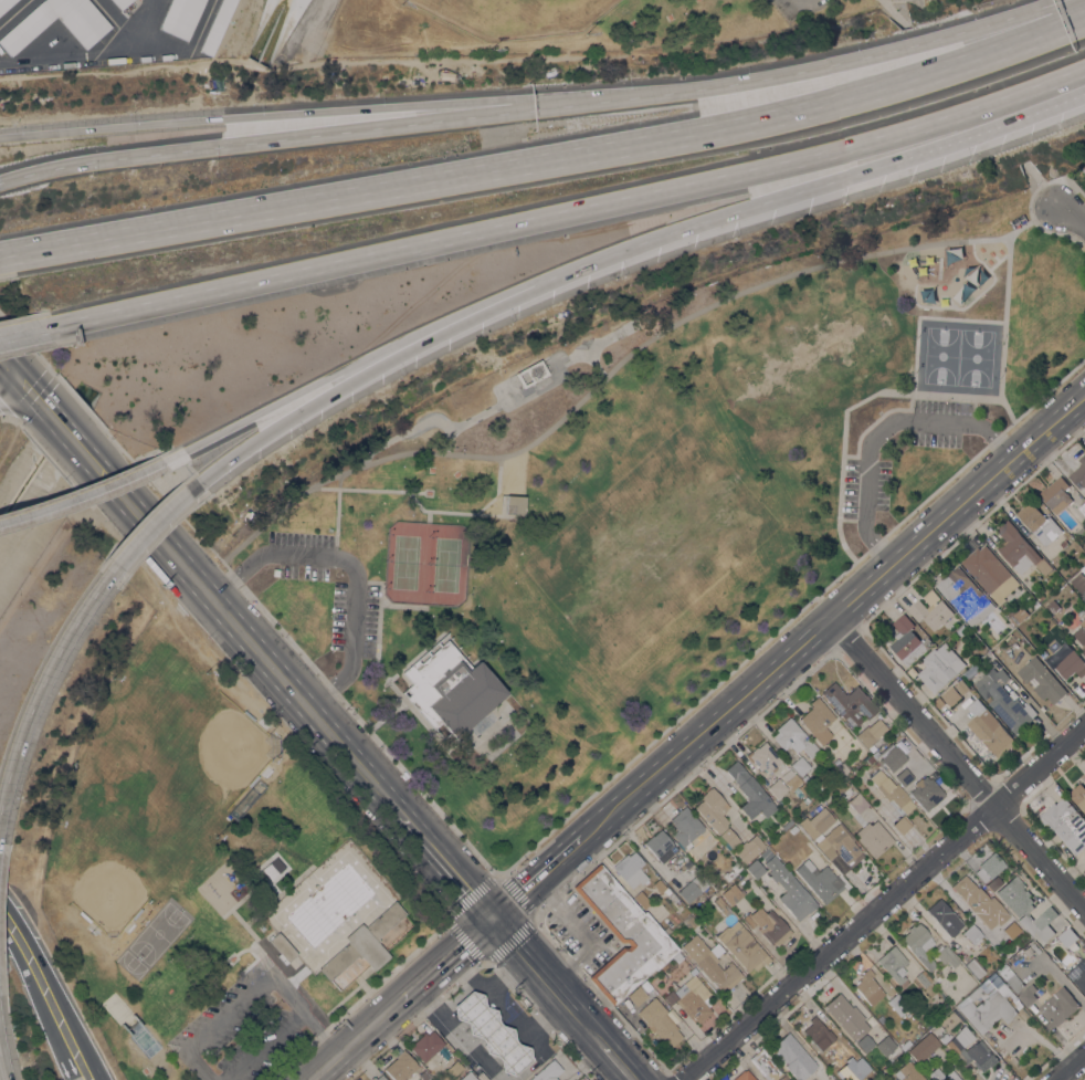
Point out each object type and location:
building: (119, 2)
building: (4, 4)
road: (148, 6)
parking lot: (787, 7)
road: (893, 13)
park: (516, 15)
building: (180, 17)
park: (561, 23)
building: (217, 25)
building: (87, 32)
road: (168, 45)
road: (896, 50)
road: (101, 53)
road: (360, 109)
road: (360, 128)
road: (548, 162)
building: (1083, 169)
road: (1037, 182)
road: (729, 211)
road: (577, 214)
road: (1068, 214)
road: (1003, 332)
road: (31, 334)
road: (32, 348)
park: (958, 357)
road: (610, 371)
building: (530, 373)
traffic signals: (20, 379)
road: (22, 381)
road: (10, 388)
park: (507, 391)
road: (80, 401)
road: (280, 401)
road: (845, 409)
road: (291, 416)
parking lot: (938, 422)
road: (882, 430)
road: (70, 433)
building: (1079, 474)
parking lot: (864, 487)
road: (159, 489)
road: (89, 491)
building: (1056, 495)
park: (650, 501)
building: (515, 504)
building: (1082, 508)
road: (423, 510)
road: (337, 514)
building: (1039, 523)
road: (147, 527)
building: (1078, 533)
building: (1063, 543)
building: (1016, 548)
parking lot: (299, 553)
park: (425, 562)
road: (350, 567)
building: (1044, 567)
building: (1083, 569)
building: (990, 574)
building: (1079, 583)
building: (965, 597)
building: (1040, 597)
building: (1034, 605)
building: (1052, 606)
building: (931, 610)
road: (833, 616)
parking lot: (354, 617)
building: (1018, 617)
road: (792, 618)
building: (1022, 626)
building: (961, 630)
building: (1079, 635)
building: (904, 637)
road: (245, 638)
building: (1034, 643)
building: (1043, 653)
building: (1068, 662)
building: (938, 668)
building: (1042, 680)
building: (961, 686)
building: (450, 689)
road: (39, 690)
building: (951, 696)
building: (1004, 700)
building: (850, 703)
road: (358, 717)
building: (818, 720)
building: (989, 728)
building: (793, 737)
building: (867, 737)
park: (232, 749)
building: (875, 754)
building: (763, 757)
building: (893, 758)
building: (871, 759)
building: (800, 765)
road: (958, 765)
building: (842, 766)
building: (904, 776)
building: (805, 778)
building: (796, 783)
building: (778, 788)
building: (891, 790)
building: (750, 791)
building: (926, 791)
building: (1078, 796)
building: (853, 799)
building: (713, 809)
building: (815, 822)
building: (787, 825)
building: (902, 825)
building: (1066, 825)
building: (685, 826)
building: (793, 829)
building: (873, 837)
building: (729, 838)
building: (261, 840)
building: (657, 842)
building: (839, 845)
building: (748, 848)
road: (446, 863)
building: (989, 867)
building: (755, 868)
building: (630, 869)
building: (735, 871)
road: (496, 873)
park: (211, 875)
road: (537, 878)
building: (819, 880)
building: (991, 884)
building: (694, 887)
building: (788, 887)
building: (664, 889)
park: (107, 892)
building: (733, 893)
building: (970, 894)
building: (642, 899)
road: (884, 901)
building: (721, 905)
building: (1026, 909)
building: (997, 912)
building: (945, 915)
traffic signals: (493, 918)
building: (1010, 918)
building: (750, 920)
building: (691, 922)
building: (999, 924)
building: (776, 929)
building: (622, 934)
building: (976, 937)
building: (1036, 937)
building: (1067, 937)
park: (152, 939)
building: (364, 943)
building: (918, 944)
building: (742, 946)
building: (282, 947)
building: (945, 955)
road: (445, 960)
building: (710, 963)
road: (534, 964)
building: (668, 964)
building: (894, 965)
building: (975, 967)
road: (25, 969)
building: (693, 971)
road: (49, 974)
road: (506, 975)
building: (1078, 975)
building: (1010, 977)
building: (921, 979)
building: (868, 987)
road: (251, 993)
building: (1026, 995)
road: (456, 996)
building: (638, 996)
building: (670, 996)
road: (488, 997)
building: (694, 998)
building: (896, 1004)
building: (987, 1005)
building: (1057, 1008)
building: (846, 1016)
building: (954, 1016)
building: (660, 1021)
parking lot: (244, 1026)
road: (589, 1027)
building: (492, 1031)
building: (824, 1036)
road: (354, 1040)
building: (425, 1045)
building: (885, 1045)
building: (905, 1045)
road: (264, 1046)
road: (64, 1047)
building: (924, 1047)
building: (787, 1049)
building: (970, 1050)
road: (618, 1061)
building: (862, 1062)
building: (819, 1063)
building: (766, 1066)
road: (3, 1067)
building: (401, 1067)
building: (453, 1067)
road: (1070, 1067)
road: (96, 1068)
building: (547, 1071)
building: (866, 1071)
building: (908, 1072)
building: (423, 1074)
road: (499, 1074)
building: (942, 1074)
building: (744, 1076)
building: (467, 1077)
road: (77, 1078)
building: (378, 1078)
building: (876, 1078)

